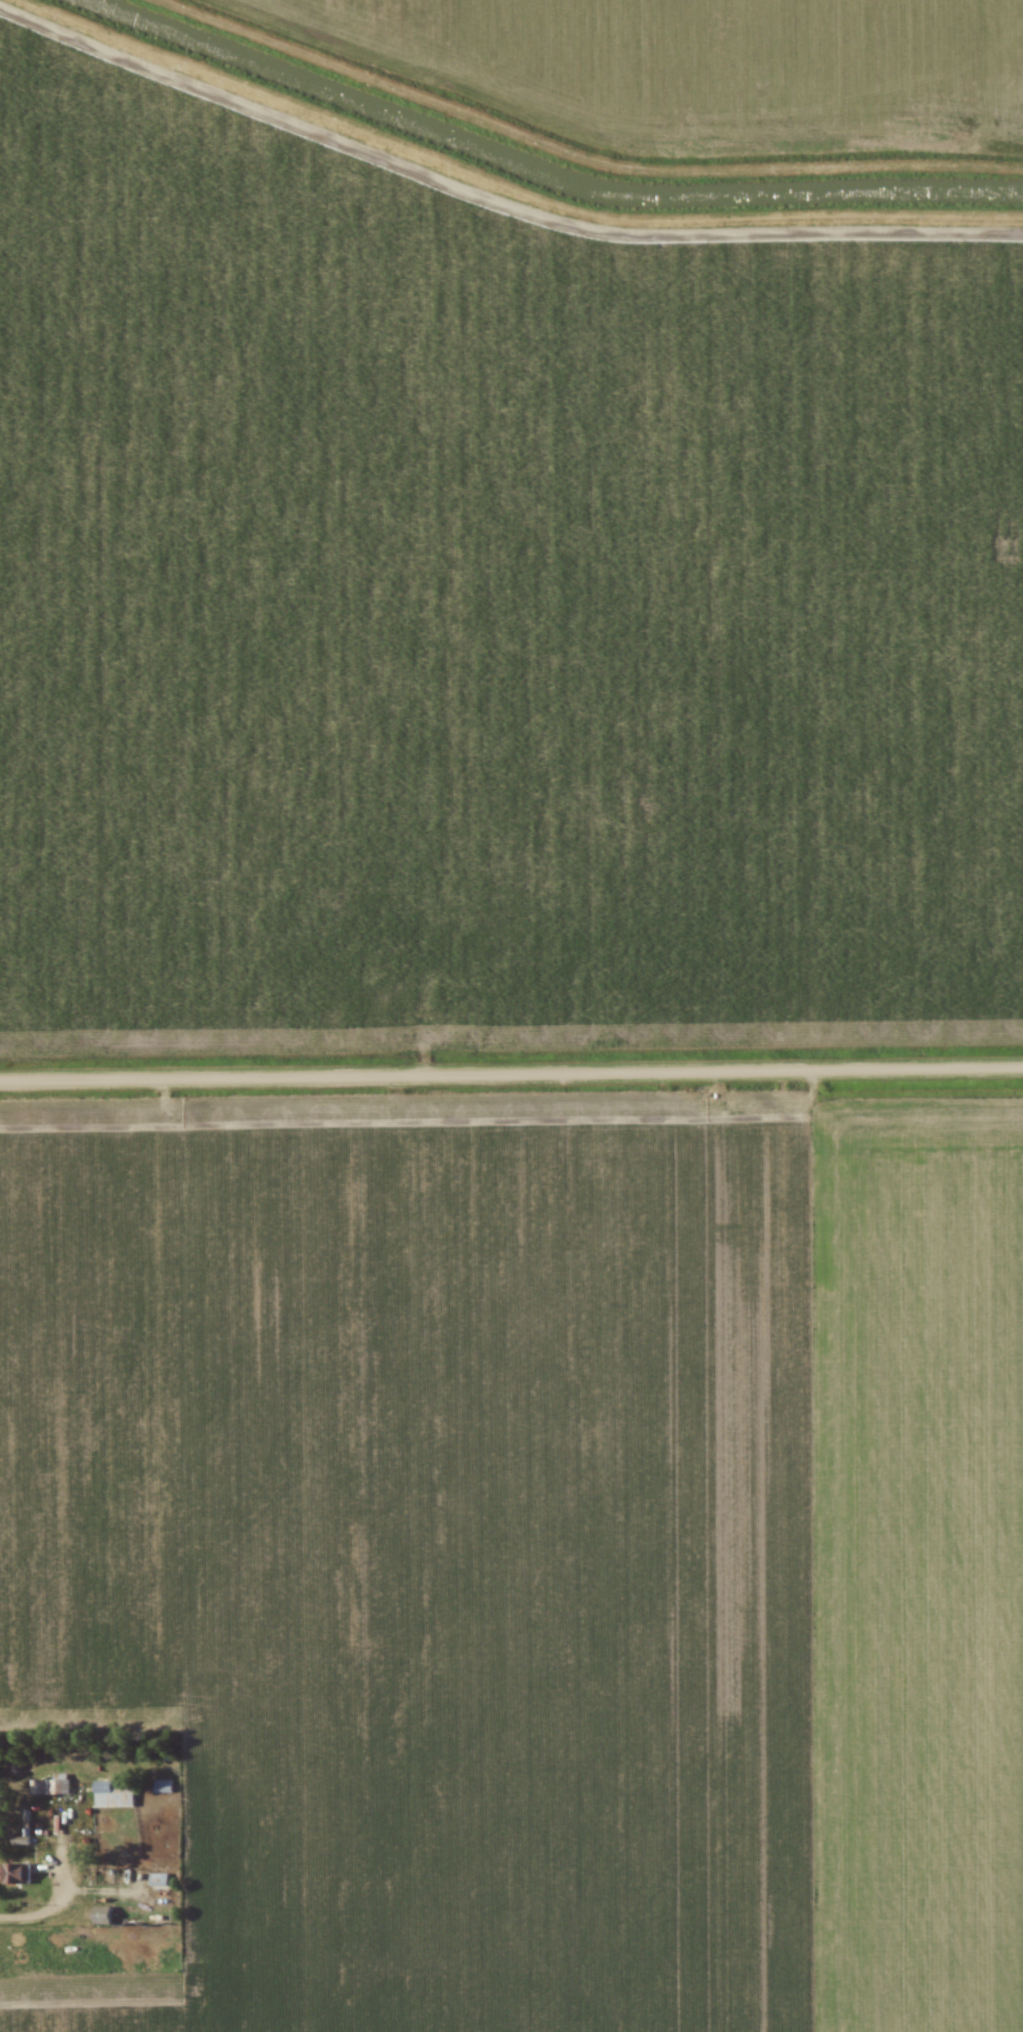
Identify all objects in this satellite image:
crop: (710, 65)
crop: (488, 602)
road: (511, 1074)
crop: (532, 1547)
building: (161, 1784)
building: (49, 1786)
building: (114, 1792)
building: (25, 1823)
building: (15, 1873)
building: (157, 1879)
road: (58, 1899)
building: (101, 1915)

